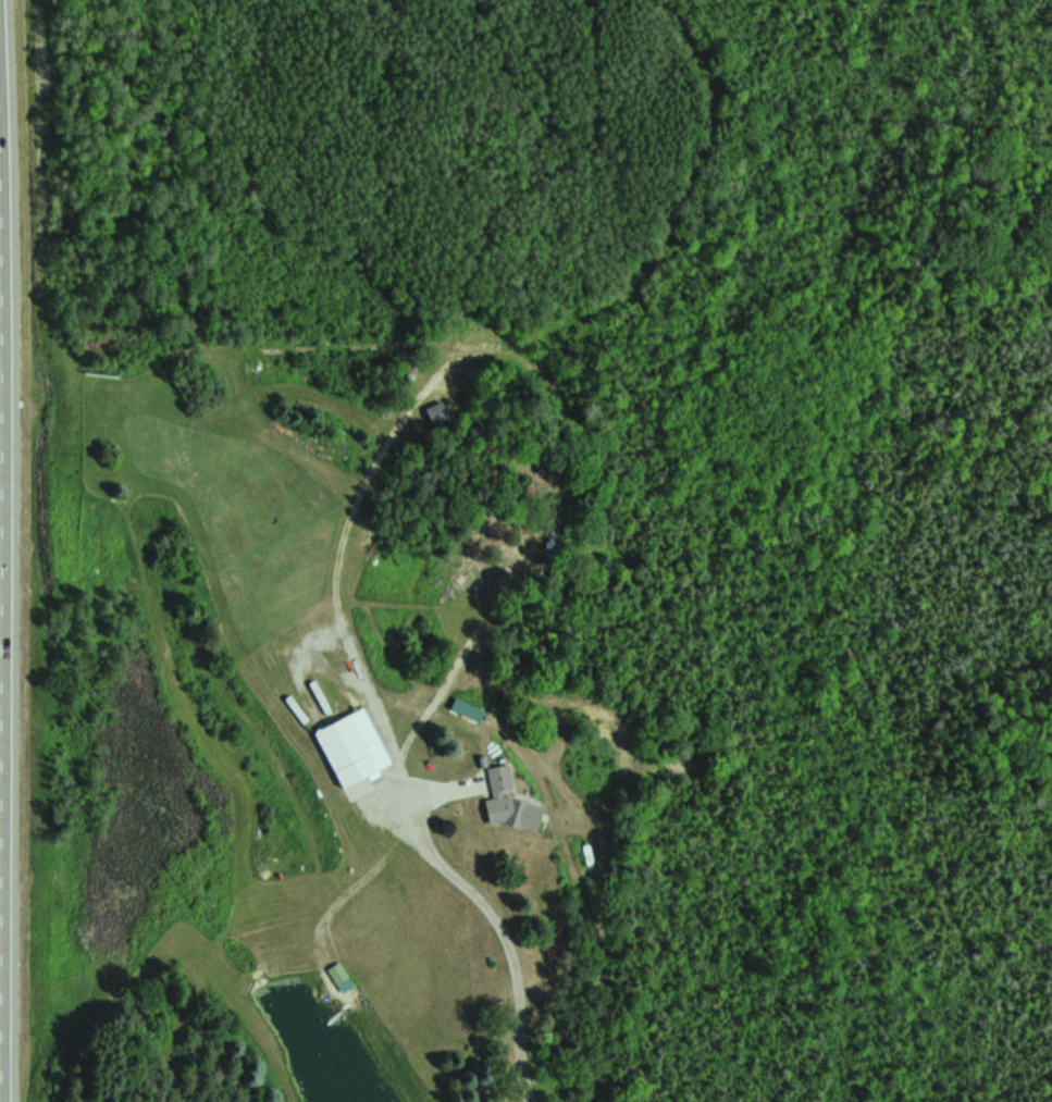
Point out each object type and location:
road: (9, 605)
building: (361, 750)
building: (506, 794)
road: (499, 924)
building: (342, 979)

